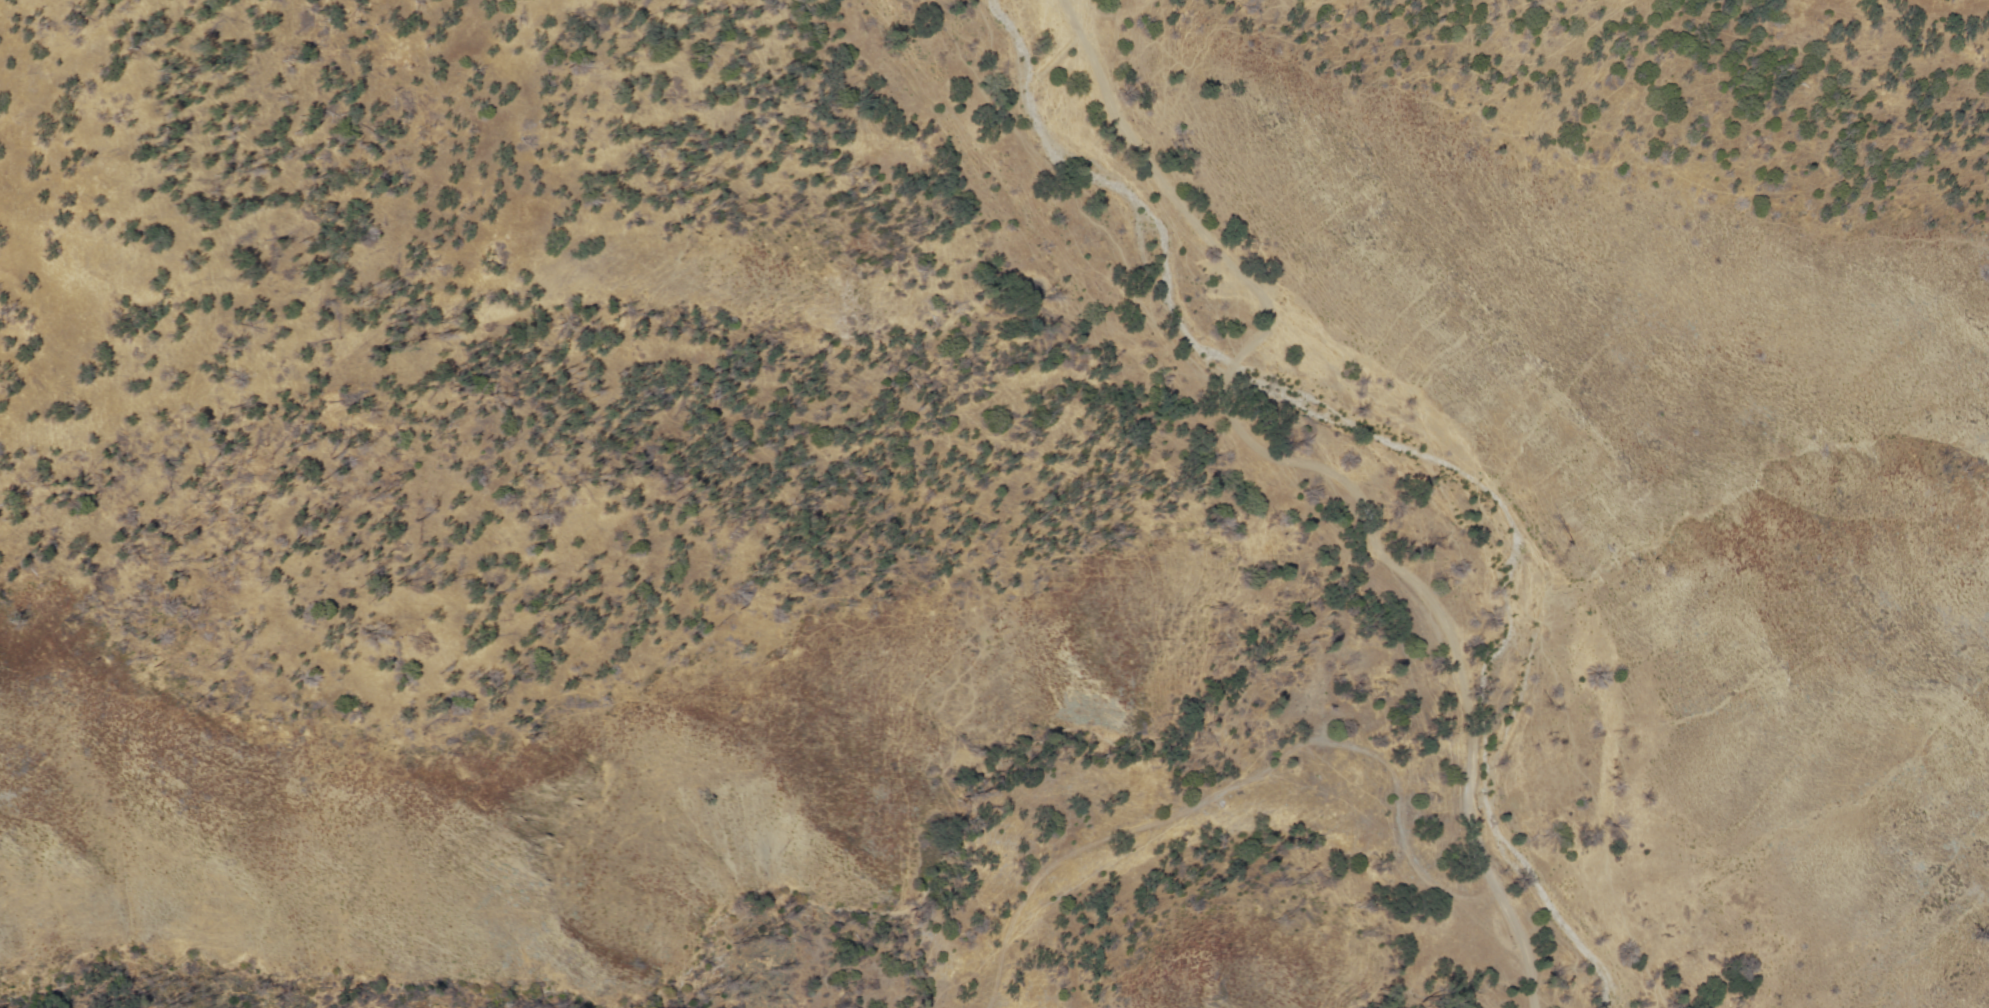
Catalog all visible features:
road: (1305, 467)

